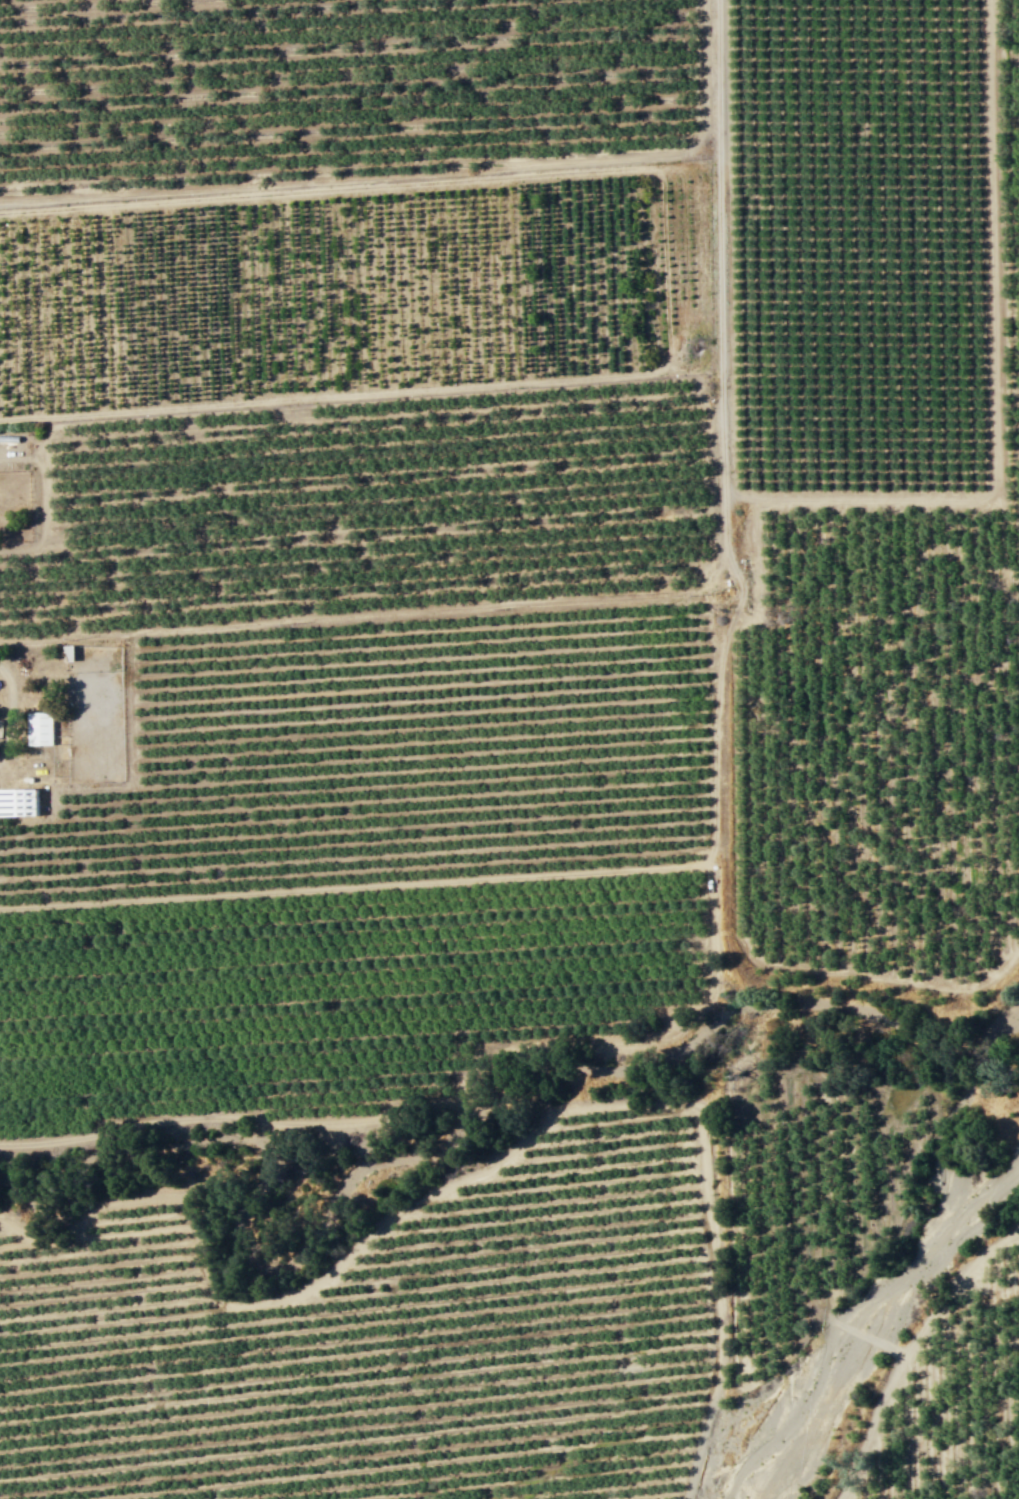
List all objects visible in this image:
road: (993, 382)
road: (648, 598)
building: (67, 652)
road: (9, 713)
building: (38, 728)
road: (743, 867)
road: (515, 876)
road: (445, 1107)
road: (453, 1183)

